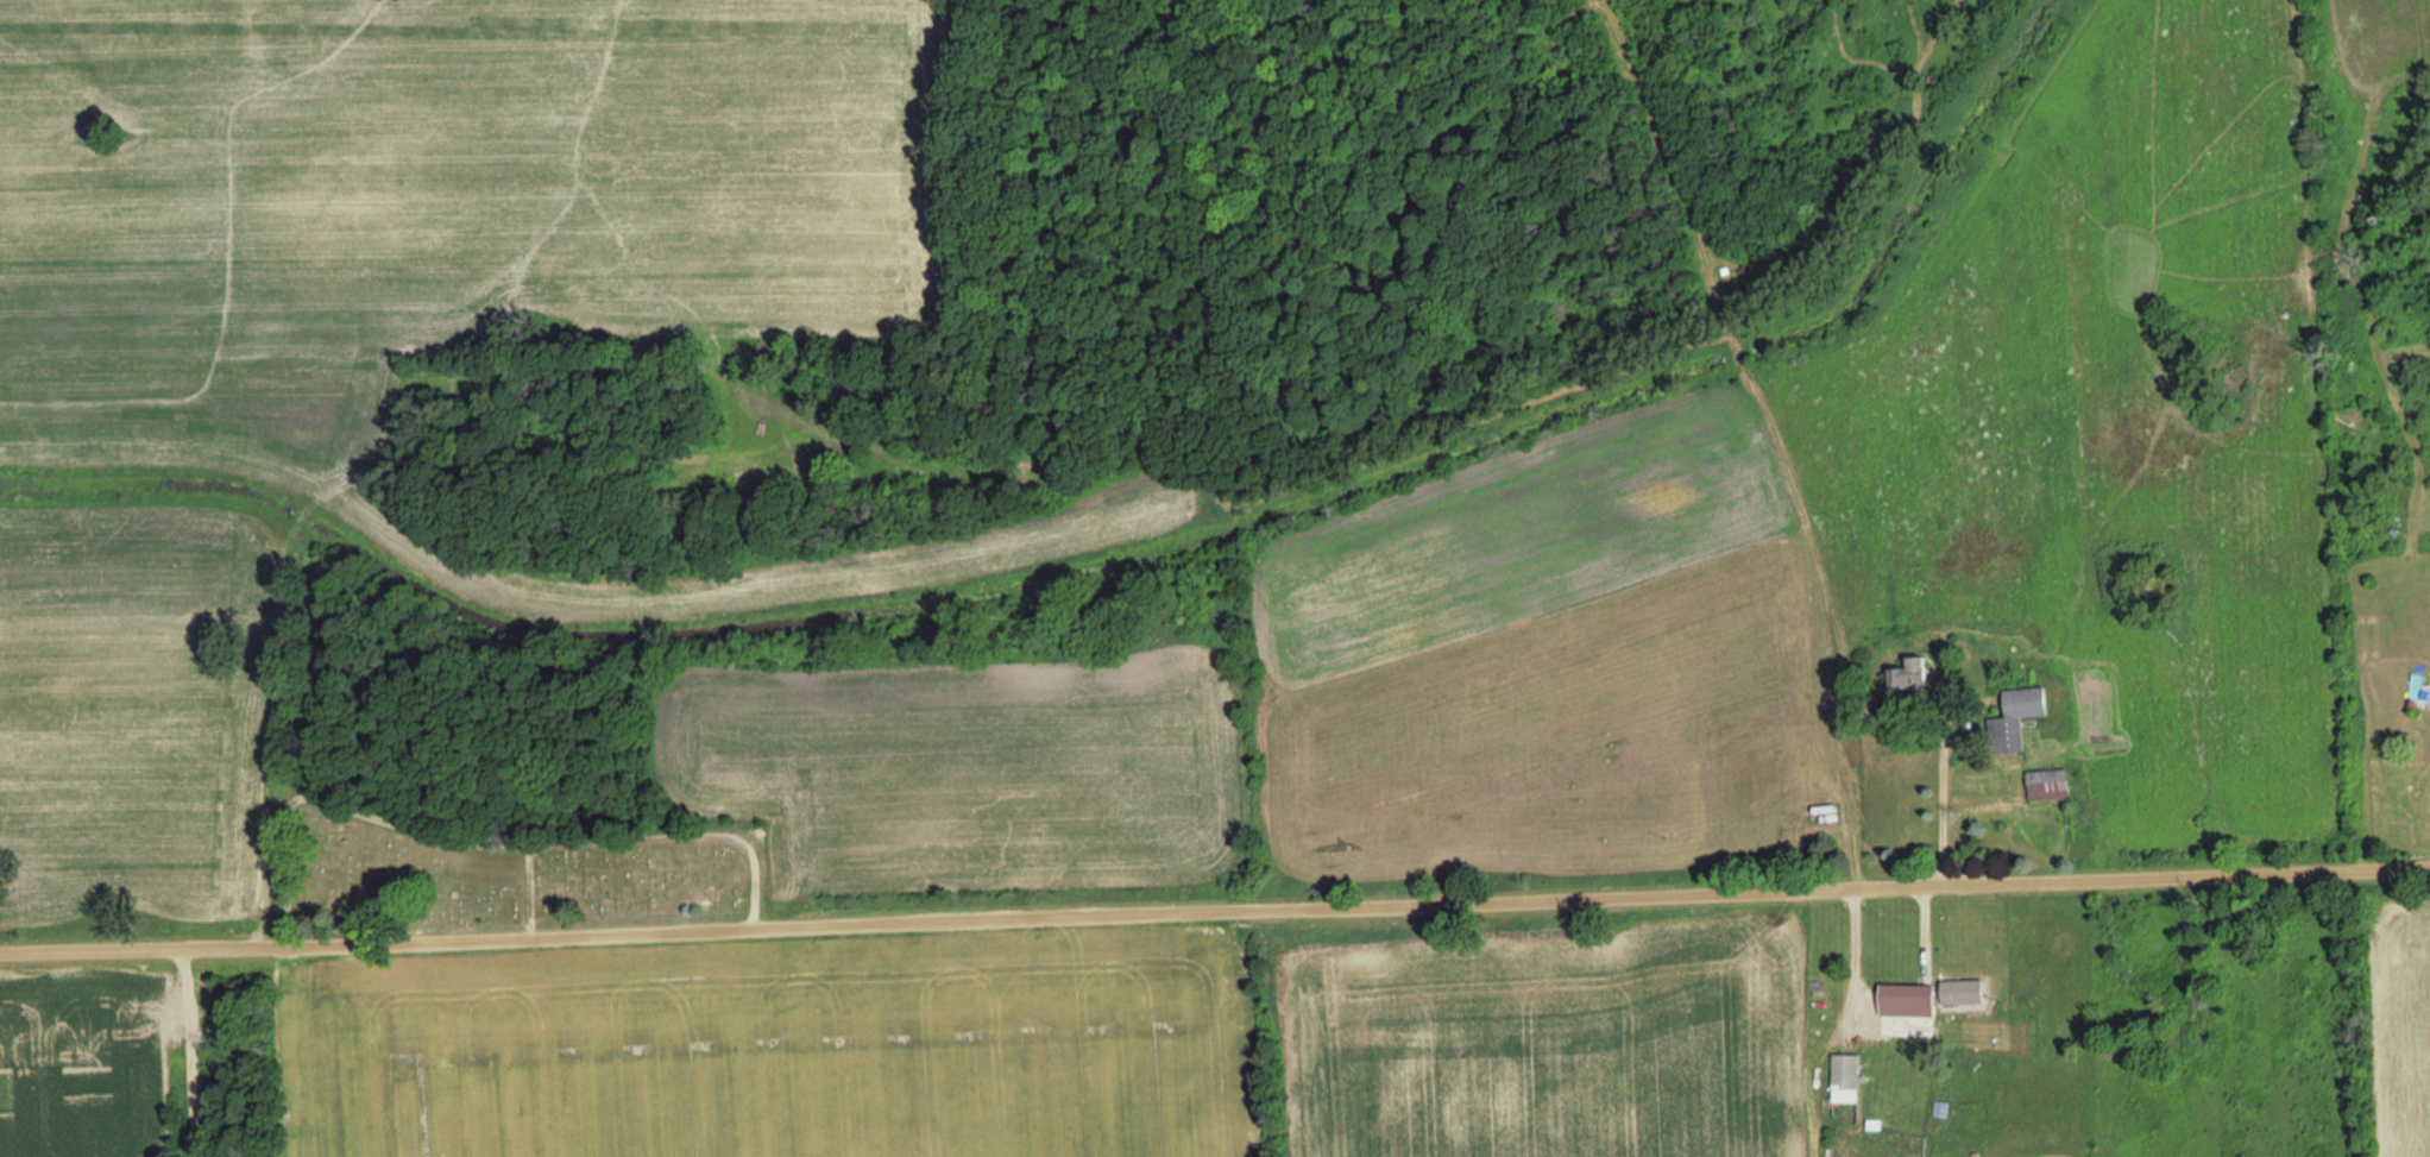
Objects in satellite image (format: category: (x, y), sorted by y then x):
building: (1913, 675)
building: (2017, 718)
building: (2051, 785)
road: (486, 844)
park: (499, 872)
road: (529, 891)
road: (1215, 911)
building: (1908, 1026)
building: (1846, 1071)

